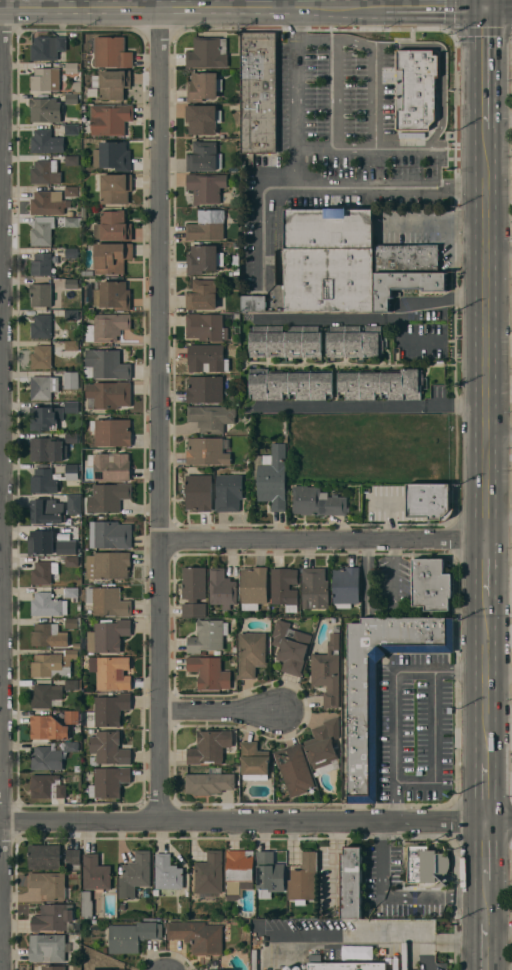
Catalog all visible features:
road: (289, 2)
road: (375, 2)
road: (418, 2)
road: (483, 2)
road: (429, 4)
traffic signals: (483, 4)
road: (497, 4)
road: (187, 5)
road: (315, 40)
building: (47, 48)
building: (112, 52)
building: (208, 53)
road: (334, 74)
road: (484, 76)
building: (46, 79)
building: (112, 84)
building: (203, 86)
building: (258, 92)
building: (415, 92)
road: (296, 96)
road: (374, 99)
building: (45, 109)
building: (202, 118)
road: (498, 118)
building: (109, 119)
building: (46, 142)
road: (315, 149)
road: (388, 149)
building: (112, 156)
building: (204, 156)
building: (45, 172)
building: (206, 187)
building: (115, 188)
road: (324, 190)
building: (71, 191)
building: (48, 202)
road: (434, 223)
building: (207, 225)
building: (113, 226)
building: (42, 231)
road: (498, 247)
building: (112, 257)
building: (406, 258)
building: (203, 259)
building: (328, 260)
building: (41, 264)
building: (405, 285)
building: (40, 294)
building: (111, 294)
building: (202, 295)
road: (404, 301)
building: (253, 302)
road: (324, 318)
building: (41, 326)
building: (107, 327)
building: (206, 327)
building: (284, 341)
building: (354, 341)
road: (484, 343)
building: (41, 357)
building: (206, 358)
building: (108, 364)
building: (71, 379)
building: (289, 384)
building: (381, 384)
building: (43, 387)
building: (204, 389)
building: (108, 394)
building: (71, 406)
road: (364, 407)
road: (159, 414)
building: (45, 417)
building: (211, 417)
building: (112, 432)
road: (498, 435)
building: (47, 449)
building: (206, 451)
building: (110, 466)
building: (71, 472)
building: (272, 477)
building: (43, 481)
road: (1, 488)
building: (229, 492)
building: (199, 493)
building: (356, 496)
building: (108, 497)
building: (317, 501)
building: (429, 501)
building: (74, 503)
building: (47, 511)
road: (498, 514)
building: (110, 534)
road: (322, 539)
building: (40, 541)
building: (66, 547)
building: (70, 560)
building: (108, 565)
building: (44, 572)
road: (485, 582)
building: (431, 584)
building: (345, 586)
building: (253, 587)
building: (222, 588)
building: (284, 588)
building: (314, 588)
building: (193, 591)
building: (106, 601)
building: (48, 605)
building: (42, 634)
building: (107, 635)
building: (207, 636)
building: (290, 647)
building: (251, 654)
building: (49, 666)
road: (498, 668)
building: (111, 672)
building: (209, 672)
building: (327, 672)
road: (484, 682)
building: (45, 695)
building: (109, 710)
road: (220, 712)
building: (71, 716)
building: (48, 727)
road: (393, 727)
building: (362, 733)
building: (322, 743)
building: (209, 746)
building: (108, 749)
building: (46, 758)
building: (254, 761)
building: (294, 769)
road: (484, 780)
building: (109, 781)
building: (209, 783)
building: (47, 786)
road: (395, 804)
road: (243, 822)
road: (499, 823)
road: (485, 852)
building: (44, 856)
building: (73, 858)
building: (426, 865)
building: (239, 872)
building: (95, 873)
building: (209, 873)
building: (134, 874)
building: (167, 874)
building: (269, 874)
building: (303, 878)
building: (351, 882)
building: (50, 884)
road: (485, 890)
road: (392, 901)
building: (86, 905)
road: (485, 910)
road: (498, 914)
building: (52, 917)
building: (353, 924)
building: (132, 936)
building: (197, 936)
road: (373, 940)
road: (485, 946)
building: (47, 948)
road: (428, 955)
building: (346, 966)
building: (53, 968)
building: (104, 969)
building: (226, 969)

